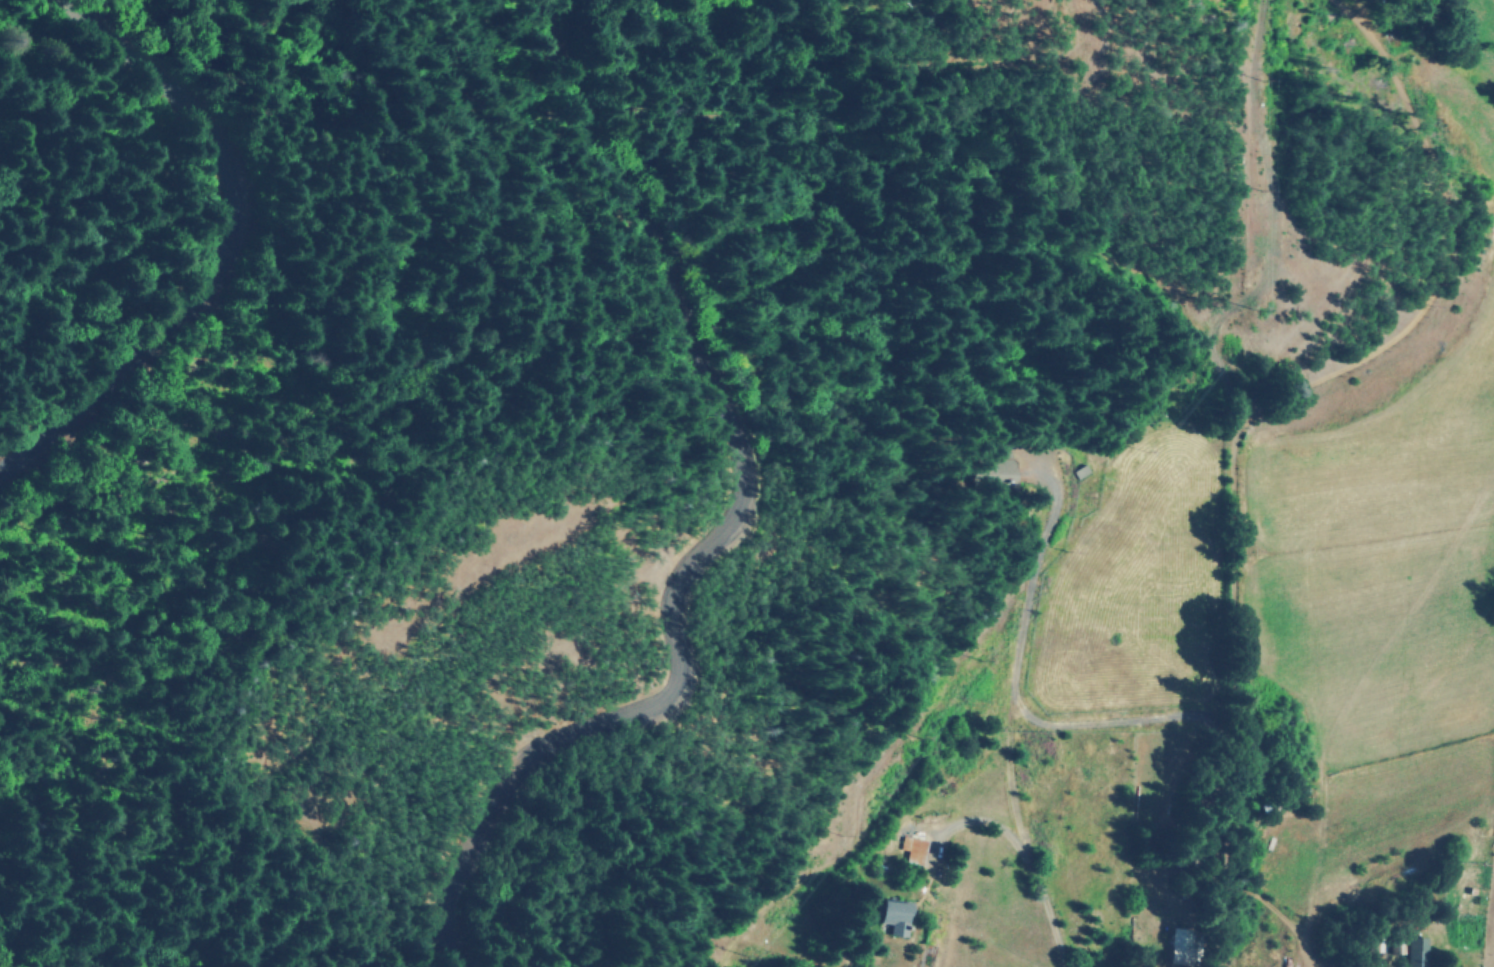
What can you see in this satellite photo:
road: (223, 241)
building: (990, 472)
road: (738, 516)
building: (911, 848)
building: (892, 915)
building: (1179, 946)
building: (1414, 951)

